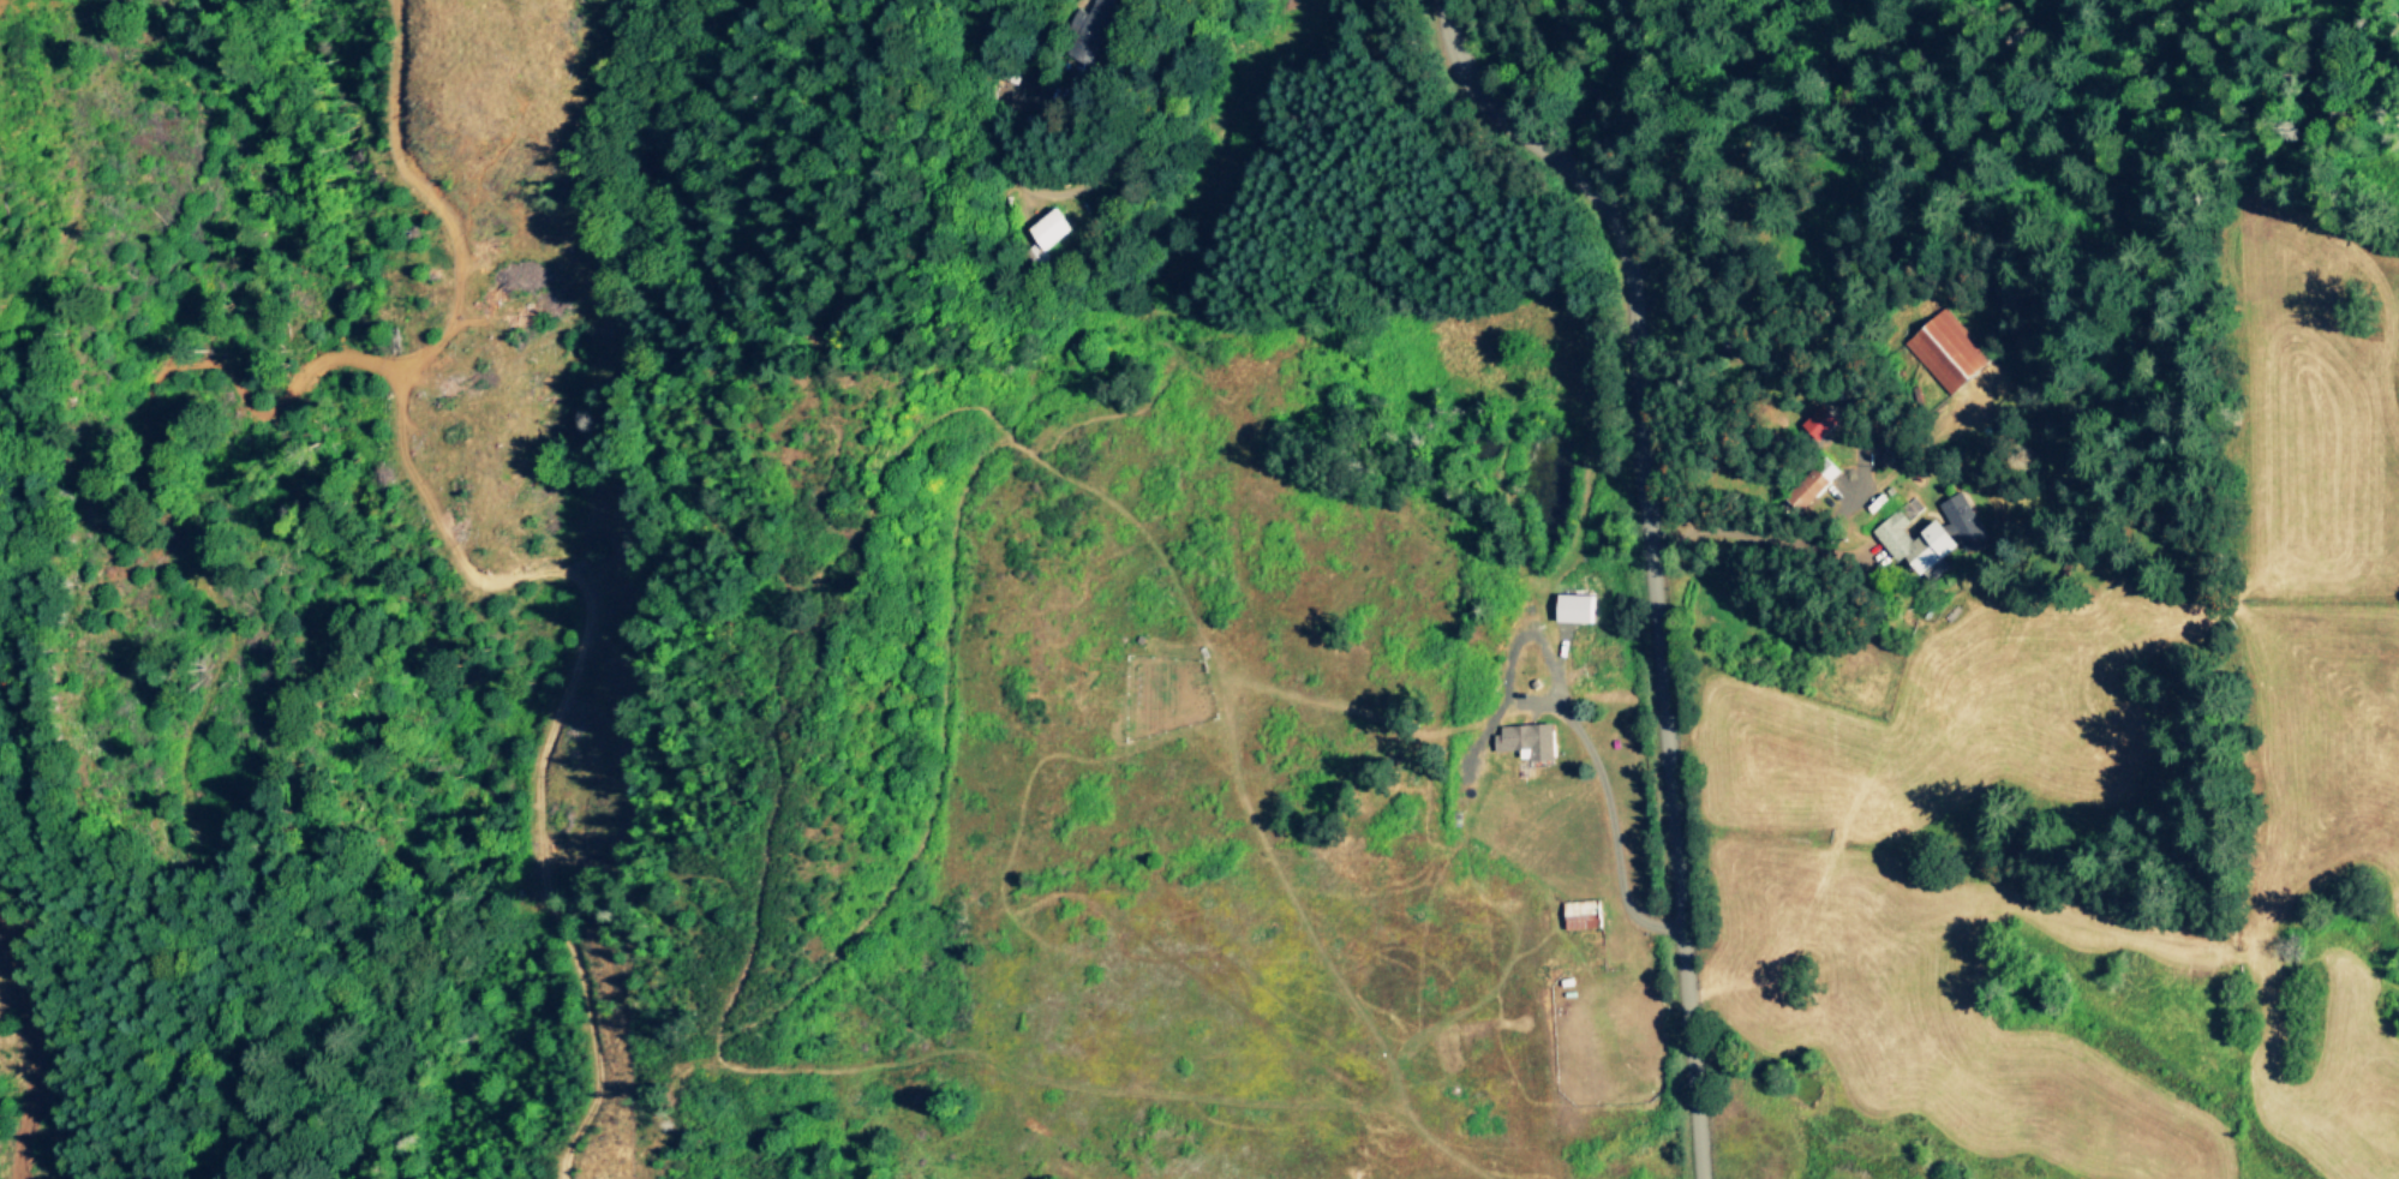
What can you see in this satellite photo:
building: (1093, 28)
road: (1163, 82)
building: (1049, 226)
building: (1949, 349)
building: (1813, 481)
building: (1966, 520)
road: (1769, 534)
building: (1918, 539)
road: (1652, 556)
building: (1577, 606)
building: (1531, 738)
road: (1615, 821)
building: (1585, 912)

